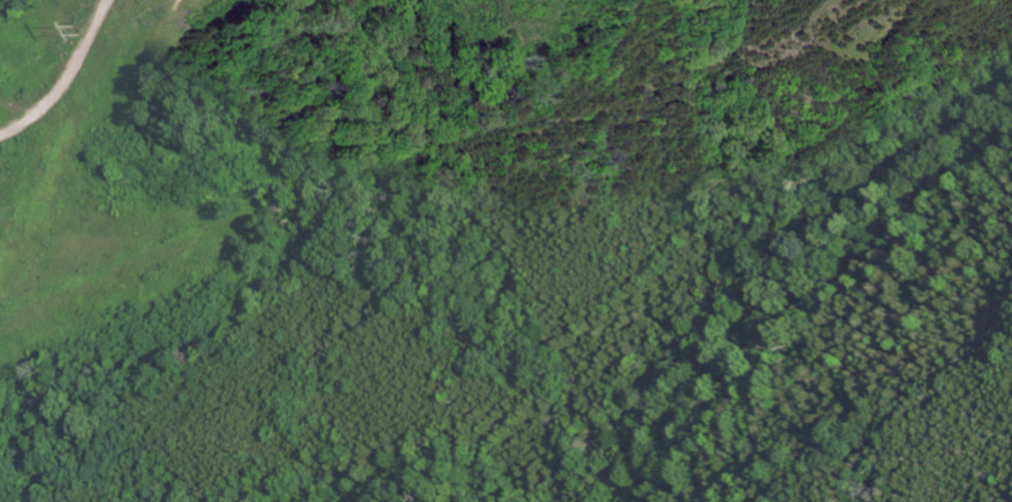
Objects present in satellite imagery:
power tower: (75, 28)
road: (37, 68)
road: (66, 76)

